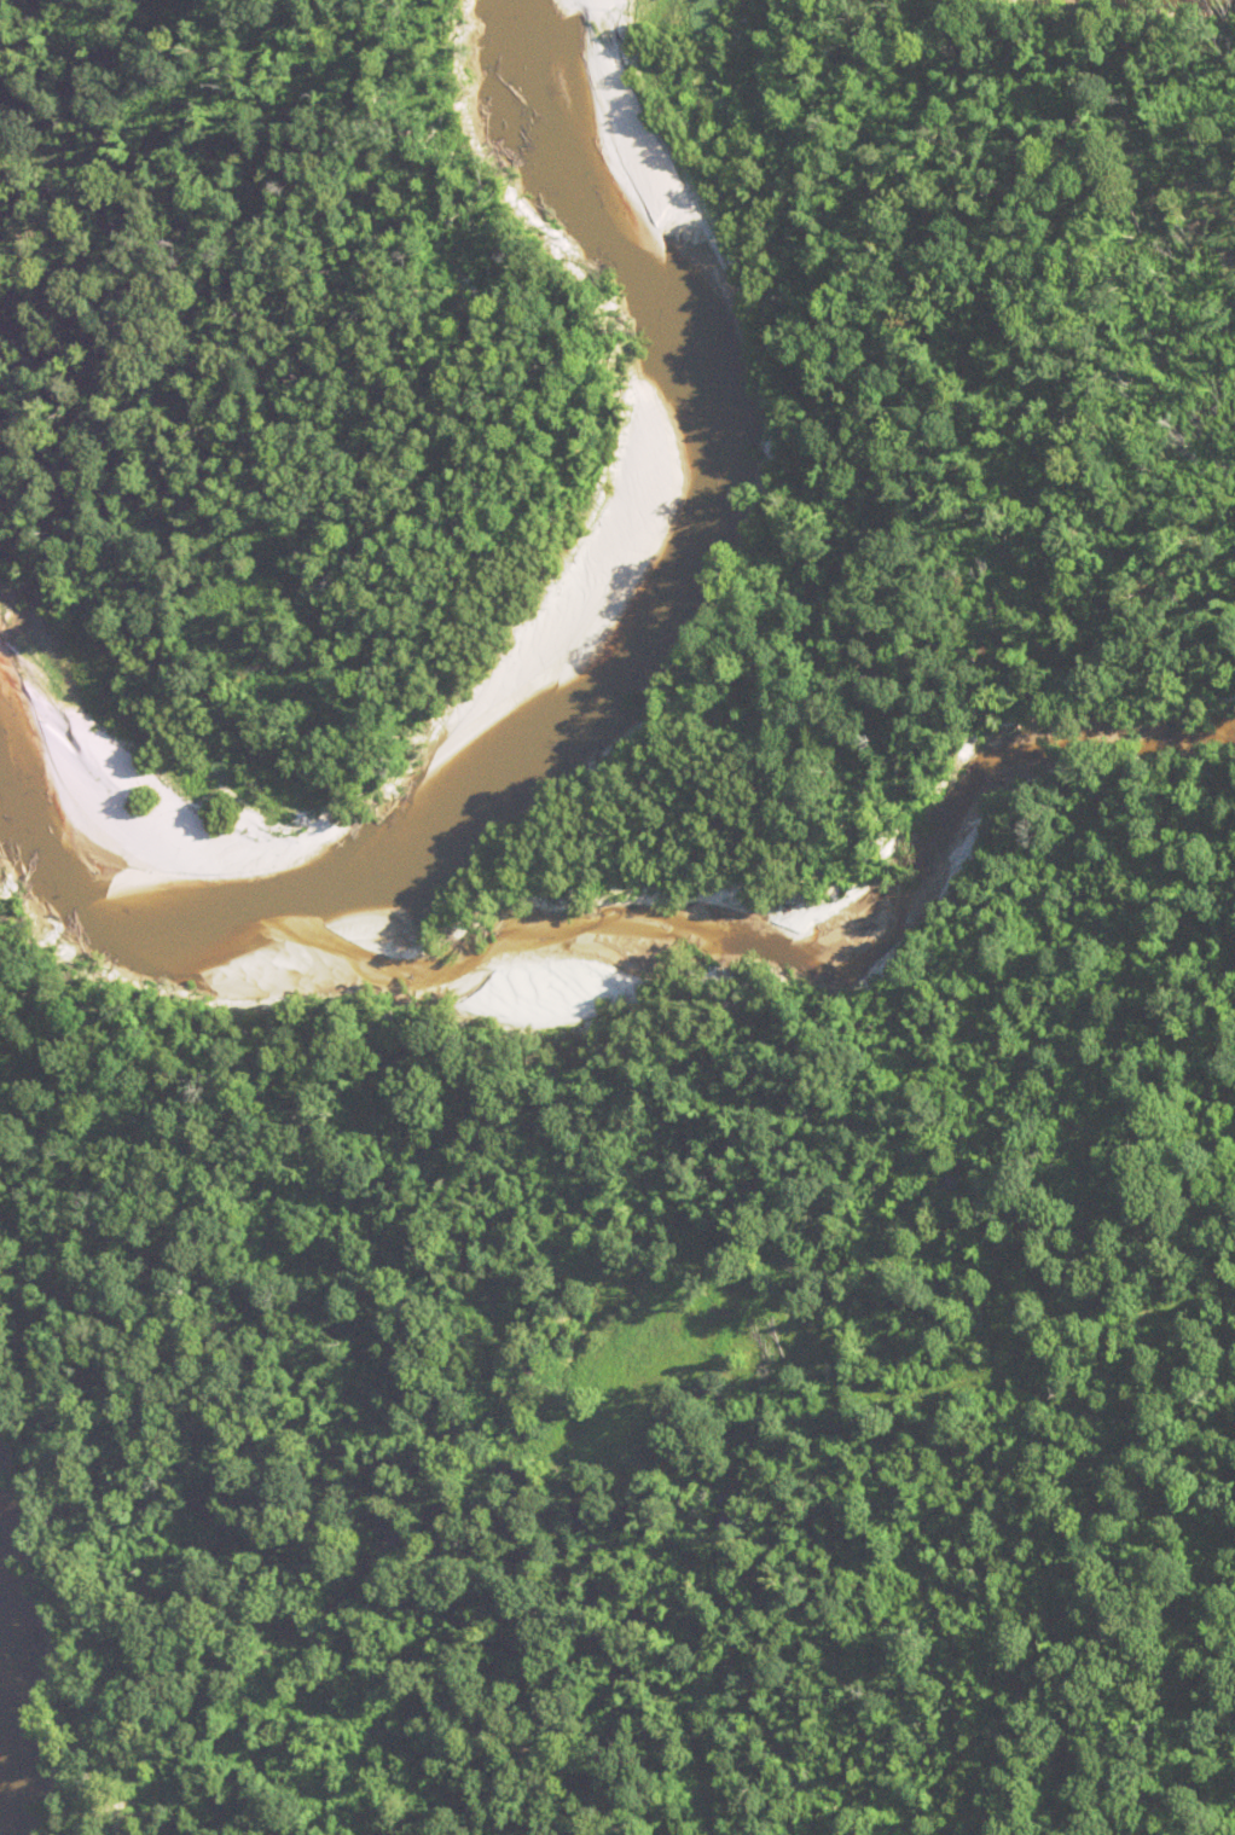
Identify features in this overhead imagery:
river: (499, 670)

